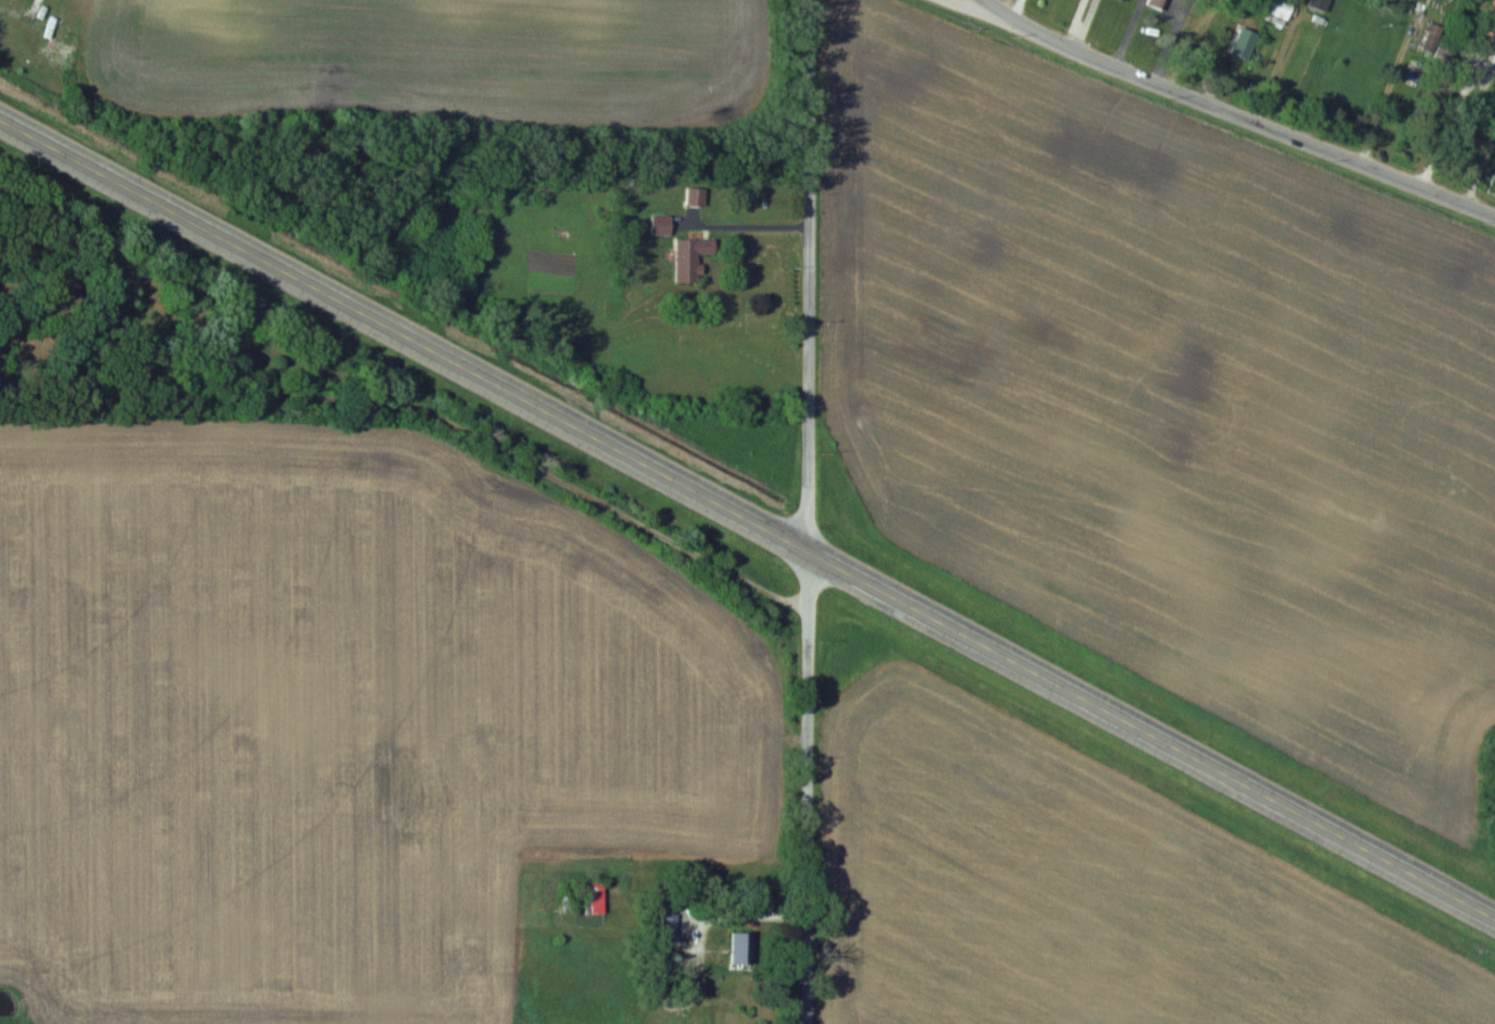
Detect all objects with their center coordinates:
building: (1470, 0)
building: (1156, 4)
building: (1282, 8)
road: (974, 9)
road: (1017, 9)
road: (1075, 22)
building: (1430, 38)
building: (1492, 42)
road: (1237, 111)
road: (1451, 118)
building: (693, 196)
road: (748, 215)
building: (659, 223)
building: (688, 258)
road: (810, 512)
road: (747, 520)
building: (595, 897)
building: (667, 924)
building: (733, 954)

